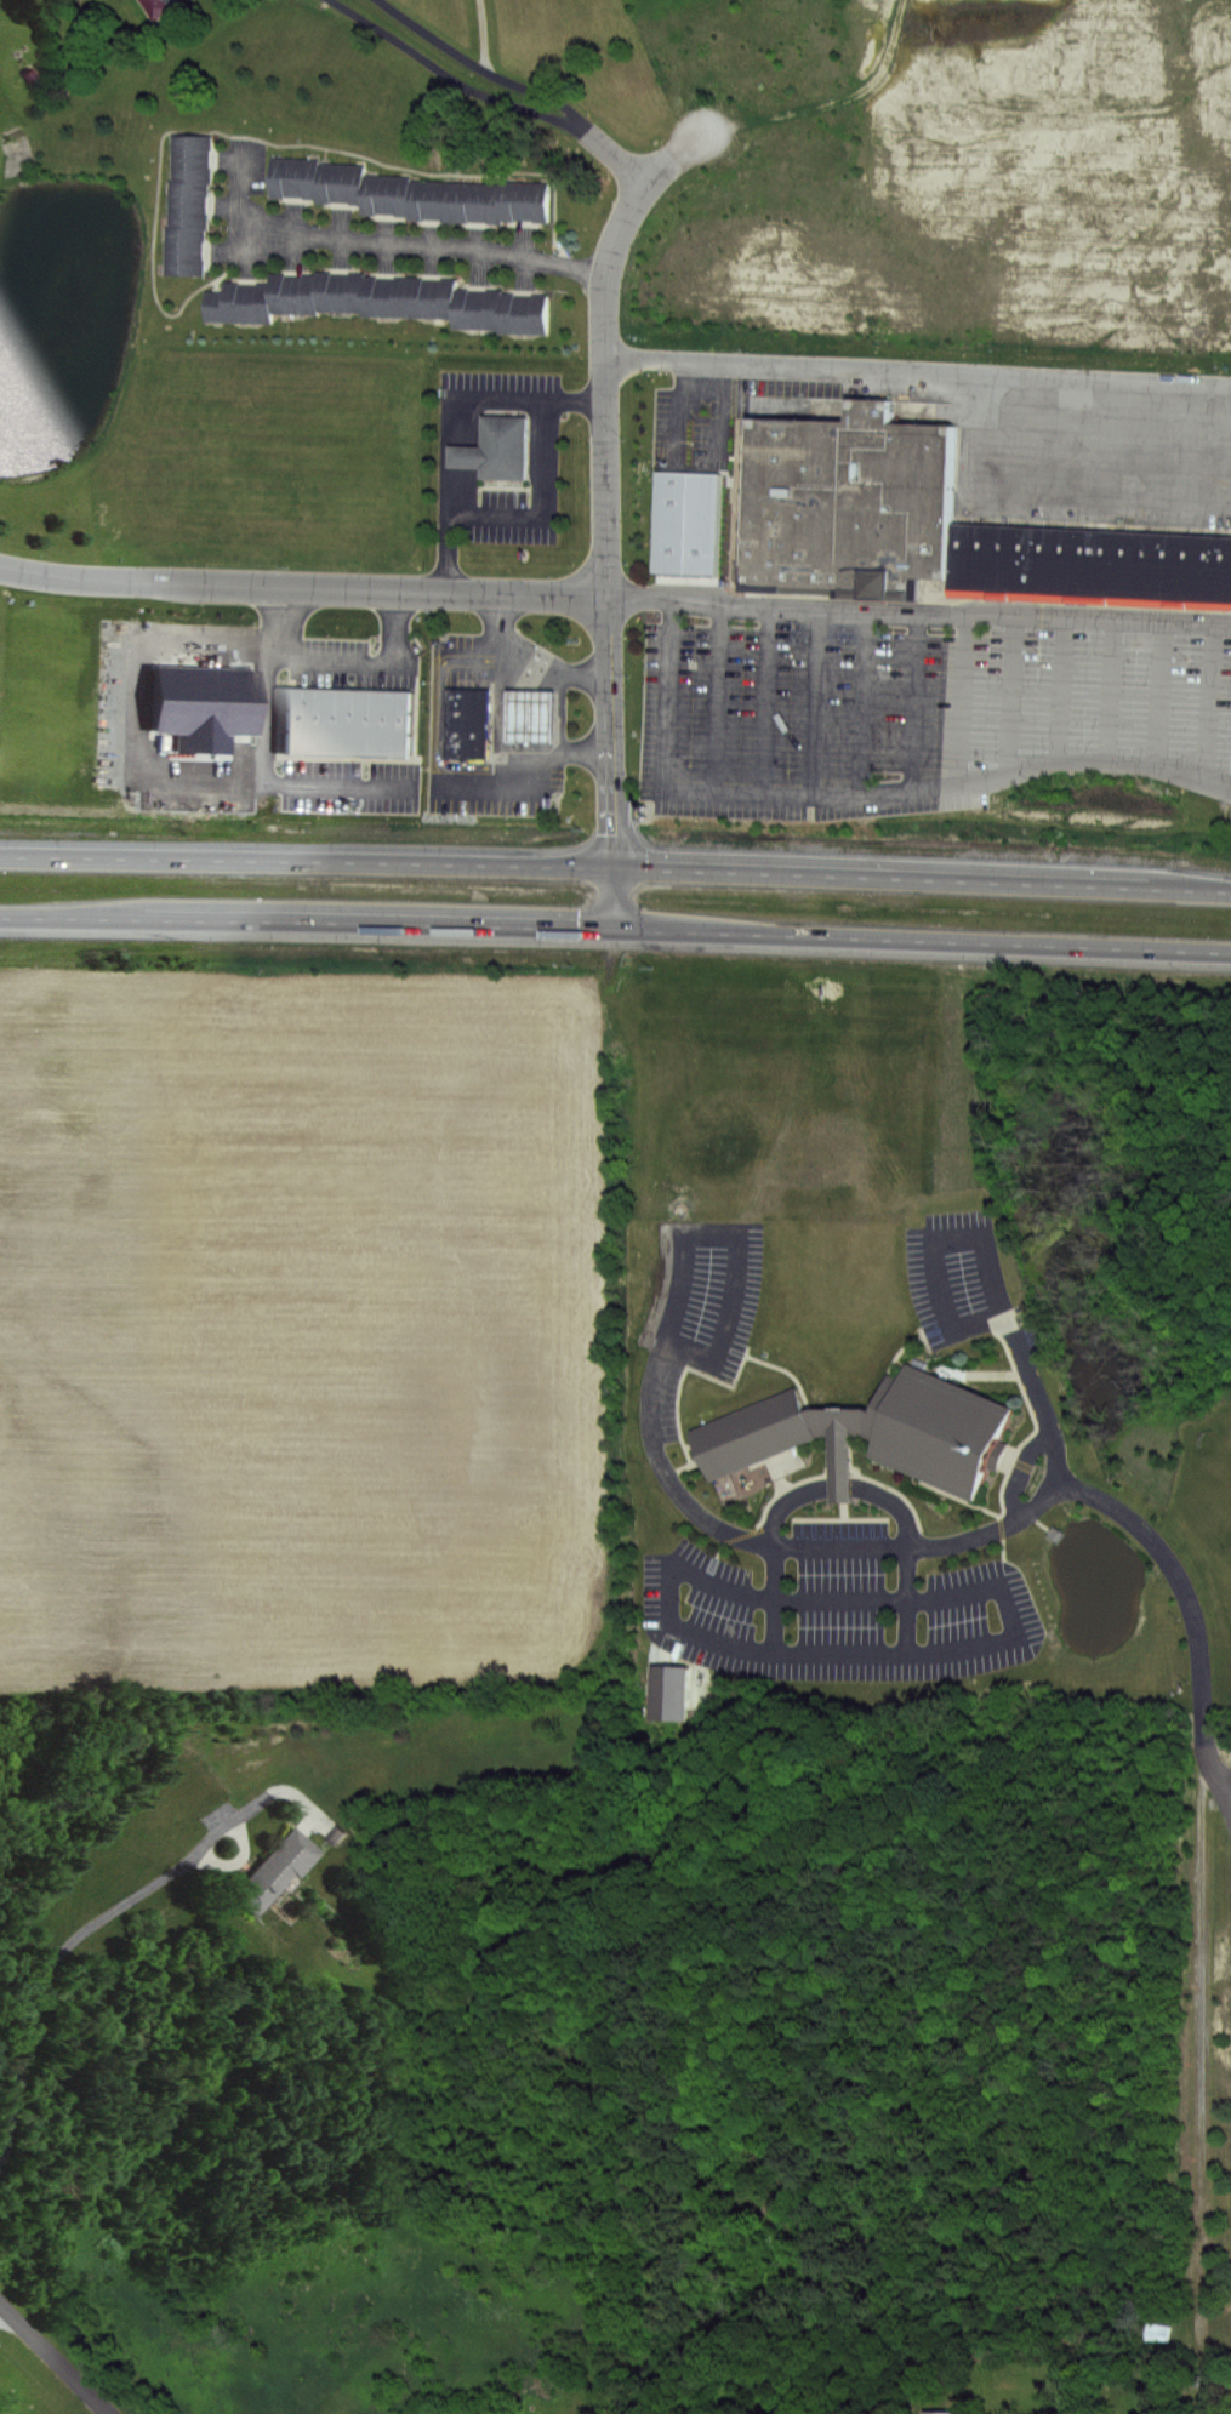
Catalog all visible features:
building: (159, 7)
road: (431, 36)
road: (456, 85)
road: (547, 96)
road: (623, 164)
crop: (902, 169)
building: (297, 179)
building: (343, 183)
building: (388, 195)
building: (434, 201)
building: (480, 202)
building: (528, 202)
building: (190, 209)
road: (386, 241)
building: (341, 291)
building: (296, 293)
building: (411, 297)
building: (241, 304)
building: (479, 307)
building: (526, 314)
road: (917, 377)
road: (463, 423)
building: (498, 444)
crop: (263, 455)
road: (538, 498)
building: (844, 501)
road: (605, 513)
building: (684, 521)
building: (1090, 564)
road: (302, 582)
road: (918, 609)
road: (364, 658)
road: (552, 669)
road: (1056, 685)
road: (1109, 686)
road: (1155, 691)
road: (1008, 692)
road: (713, 694)
road: (764, 696)
road: (959, 696)
road: (813, 697)
road: (912, 697)
road: (860, 698)
road: (1206, 698)
parking lot: (921, 703)
building: (468, 709)
gas station: (468, 709)
building: (342, 717)
building: (538, 717)
road: (501, 724)
road: (263, 746)
building: (467, 748)
road: (859, 789)
traffic signals: (614, 866)
road: (615, 866)
traffic signals: (614, 928)
road: (615, 928)
crop: (807, 1117)
road: (694, 1234)
parking lot: (962, 1282)
road: (996, 1292)
parking lot: (696, 1314)
crop: (312, 1318)
road: (651, 1394)
building: (859, 1433)
building: (839, 1467)
road: (1024, 1473)
road: (839, 1486)
crop: (1201, 1507)
road: (935, 1546)
road: (1189, 1610)
parking lot: (839, 1613)
road: (997, 1647)
building: (666, 1693)
road: (241, 1837)
building: (273, 1870)
road: (45, 1969)
road: (52, 2361)
park: (44, 2369)

